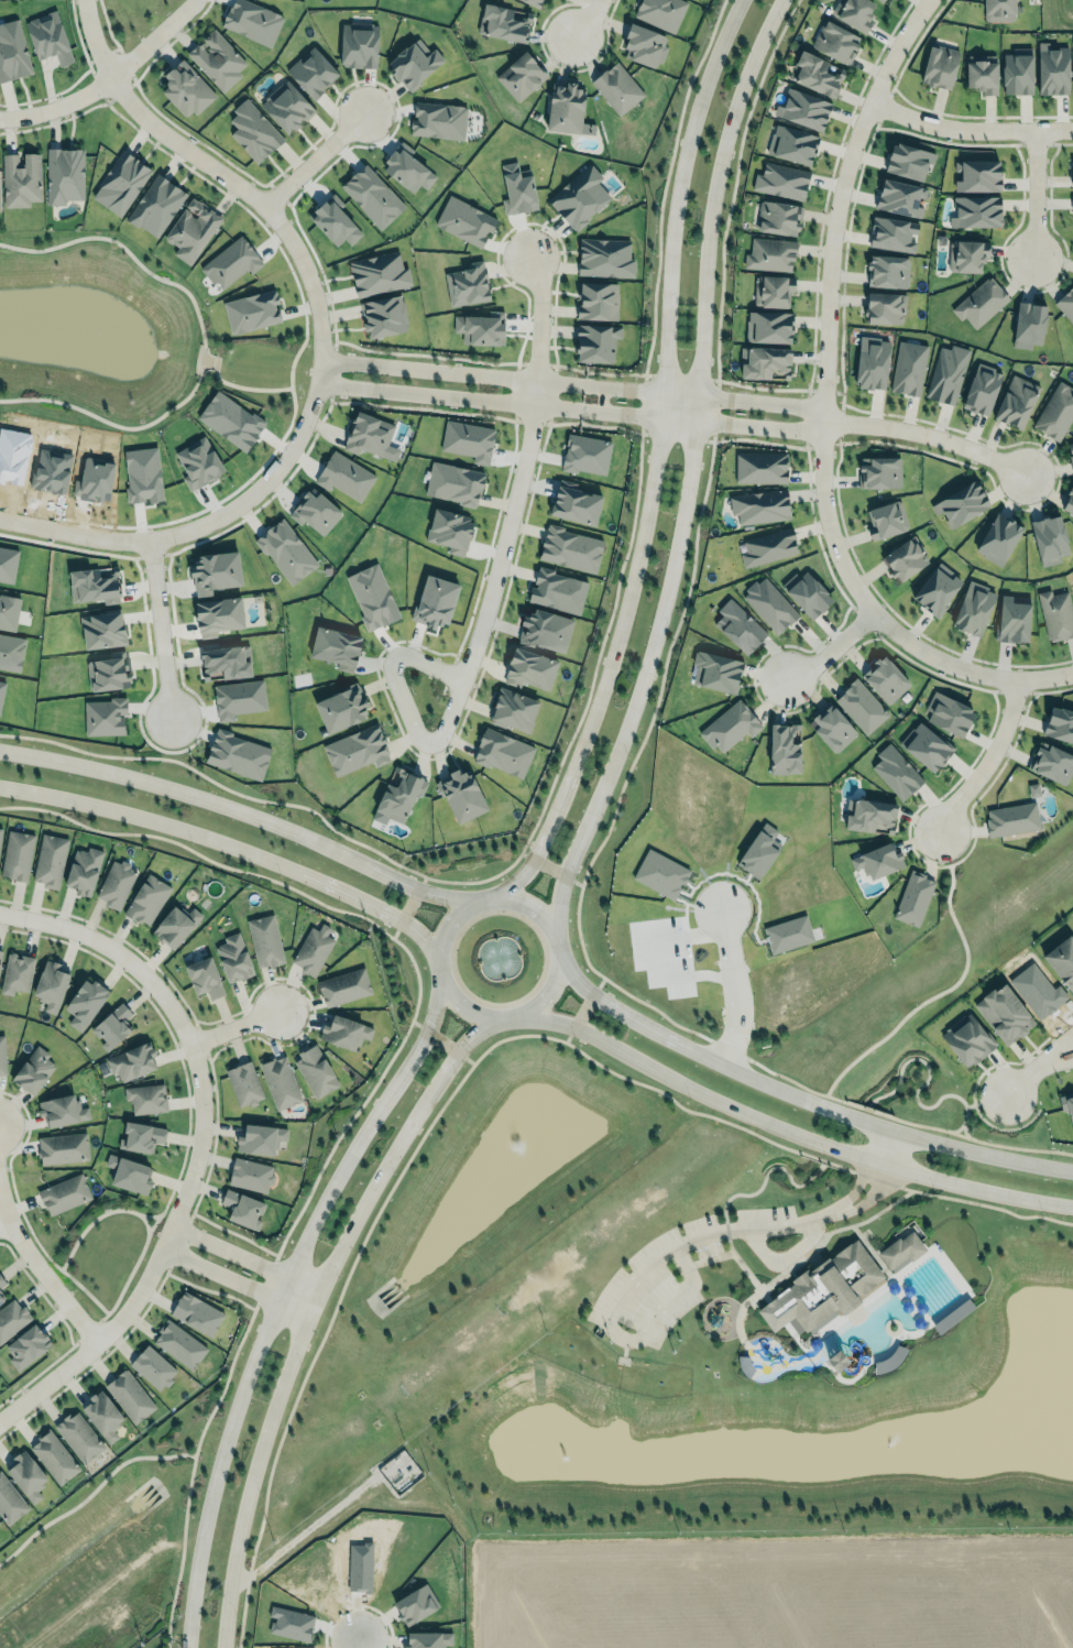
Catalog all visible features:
building: (880, 0)
building: (883, 0)
building: (533, 2)
building: (996, 11)
building: (658, 12)
building: (852, 13)
road: (587, 18)
building: (252, 21)
building: (503, 22)
road: (106, 23)
building: (46, 35)
building: (357, 44)
building: (644, 44)
building: (831, 44)
building: (12, 52)
building: (1072, 55)
road: (103, 56)
building: (217, 59)
road: (127, 62)
building: (413, 64)
road: (561, 66)
building: (940, 66)
building: (311, 72)
building: (1015, 74)
building: (1050, 74)
building: (521, 75)
building: (978, 75)
road: (77, 76)
building: (811, 76)
road: (107, 78)
road: (97, 85)
building: (615, 86)
building: (186, 88)
road: (120, 90)
building: (286, 106)
building: (562, 106)
road: (883, 106)
road: (929, 107)
building: (800, 111)
building: (434, 119)
road: (968, 124)
building: (252, 130)
road: (1032, 141)
building: (789, 145)
road: (314, 159)
building: (904, 163)
building: (407, 170)
building: (64, 174)
building: (974, 176)
building: (1070, 176)
building: (20, 179)
building: (120, 183)
road: (664, 183)
road: (733, 184)
building: (779, 185)
building: (517, 189)
road: (222, 190)
road: (1034, 193)
road: (276, 194)
building: (372, 196)
building: (578, 197)
building: (896, 199)
building: (155, 206)
building: (1070, 210)
building: (974, 215)
building: (775, 219)
building: (463, 220)
building: (333, 221)
building: (190, 228)
road: (819, 229)
building: (887, 234)
building: (603, 257)
building: (768, 258)
building: (963, 258)
road: (317, 259)
building: (230, 262)
building: (377, 273)
building: (883, 274)
building: (467, 284)
building: (768, 294)
building: (598, 301)
building: (976, 305)
building: (1064, 307)
building: (880, 309)
building: (251, 312)
road: (539, 315)
building: (383, 316)
building: (1026, 328)
building: (479, 329)
building: (765, 329)
fountain: (92, 336)
road: (201, 341)
building: (594, 342)
road: (320, 343)
road: (536, 361)
building: (762, 363)
building: (869, 365)
road: (332, 369)
road: (452, 369)
building: (905, 371)
road: (681, 374)
building: (944, 375)
road: (242, 385)
road: (514, 390)
building: (979, 391)
road: (550, 392)
road: (704, 394)
road: (823, 395)
road: (449, 396)
road: (642, 402)
building: (1012, 403)
road: (421, 405)
road: (714, 408)
road: (822, 411)
road: (891, 413)
building: (1054, 413)
road: (806, 416)
road: (529, 419)
road: (702, 422)
road: (593, 423)
road: (839, 423)
building: (368, 435)
road: (927, 435)
road: (676, 436)
building: (468, 440)
building: (1070, 459)
building: (197, 462)
road: (653, 463)
building: (757, 470)
road: (687, 471)
building: (341, 474)
building: (876, 476)
building: (450, 482)
building: (1067, 503)
building: (576, 505)
building: (957, 505)
building: (757, 510)
building: (315, 512)
building: (882, 522)
building: (449, 531)
building: (995, 539)
building: (1047, 543)
building: (570, 548)
building: (765, 550)
building: (285, 552)
road: (151, 556)
building: (900, 560)
building: (215, 571)
building: (92, 583)
building: (556, 589)
building: (931, 591)
building: (372, 597)
building: (803, 597)
building: (434, 601)
building: (767, 608)
building: (970, 611)
building: (216, 614)
building: (1053, 616)
road: (864, 619)
building: (1010, 622)
building: (101, 629)
road: (160, 629)
building: (545, 630)
building: (735, 630)
building: (336, 647)
road: (473, 647)
road: (828, 647)
building: (10, 653)
building: (226, 661)
building: (529, 669)
building: (107, 673)
building: (713, 674)
road: (450, 675)
road: (944, 676)
building: (882, 680)
road: (1017, 691)
road: (195, 695)
building: (237, 698)
building: (340, 707)
building: (512, 709)
building: (857, 709)
road: (646, 713)
building: (944, 716)
building: (103, 717)
building: (1058, 727)
road: (401, 729)
building: (725, 729)
building: (829, 730)
building: (921, 747)
building: (355, 750)
building: (500, 751)
building: (780, 751)
building: (236, 754)
road: (986, 758)
building: (1048, 765)
building: (893, 775)
building: (398, 792)
building: (460, 794)
road: (241, 810)
building: (866, 818)
building: (1008, 821)
building: (0, 831)
road: (232, 847)
building: (758, 851)
building: (15, 854)
building: (47, 860)
building: (874, 862)
road: (549, 865)
building: (81, 870)
road: (469, 875)
building: (116, 883)
road: (494, 896)
building: (146, 899)
building: (910, 899)
road: (407, 904)
road: (369, 918)
building: (173, 924)
building: (787, 934)
building: (265, 939)
building: (313, 949)
building: (0, 951)
building: (233, 957)
fountain: (497, 958)
building: (1061, 962)
building: (17, 973)
building: (202, 976)
building: (50, 984)
road: (735, 984)
building: (343, 985)
road: (934, 995)
building: (85, 1003)
road: (310, 1004)
road: (581, 1008)
building: (1004, 1013)
road: (237, 1024)
building: (112, 1026)
building: (341, 1030)
road: (200, 1037)
road: (440, 1043)
building: (963, 1043)
road: (1059, 1045)
road: (727, 1048)
road: (1059, 1051)
building: (2, 1057)
building: (132, 1061)
building: (316, 1070)
building: (31, 1071)
road: (1025, 1073)
building: (280, 1082)
road: (921, 1082)
building: (244, 1083)
road: (973, 1088)
building: (144, 1096)
road: (797, 1096)
road: (970, 1104)
building: (1066, 1105)
building: (63, 1110)
road: (906, 1118)
road: (956, 1127)
road: (790, 1131)
building: (141, 1137)
building: (260, 1138)
road: (397, 1140)
road: (197, 1143)
fountain: (525, 1144)
building: (62, 1147)
road: (412, 1154)
road: (865, 1161)
building: (128, 1172)
road: (765, 1174)
road: (885, 1174)
building: (250, 1175)
road: (879, 1178)
building: (64, 1193)
road: (1, 1200)
road: (992, 1205)
road: (161, 1209)
building: (242, 1209)
road: (96, 1214)
road: (145, 1223)
road: (726, 1229)
road: (179, 1241)
road: (807, 1254)
road: (244, 1256)
park: (567, 1265)
road: (740, 1265)
road: (42, 1266)
road: (236, 1279)
road: (638, 1279)
parking lot: (653, 1279)
road: (263, 1280)
building: (2, 1281)
building: (833, 1283)
road: (277, 1294)
building: (1, 1297)
building: (195, 1312)
building: (952, 1316)
building: (11, 1318)
road: (90, 1325)
road: (67, 1327)
road: (129, 1329)
road: (618, 1334)
building: (178, 1341)
building: (26, 1346)
building: (835, 1361)
building: (152, 1367)
building: (129, 1393)
building: (101, 1411)
building: (78, 1433)
fountain: (887, 1444)
building: (53, 1453)
fountain: (566, 1454)
road: (256, 1461)
road: (189, 1473)
building: (25, 1475)
road: (92, 1491)
building: (10, 1502)
road: (354, 1603)
building: (415, 1604)
road: (355, 1638)
building: (427, 1639)

